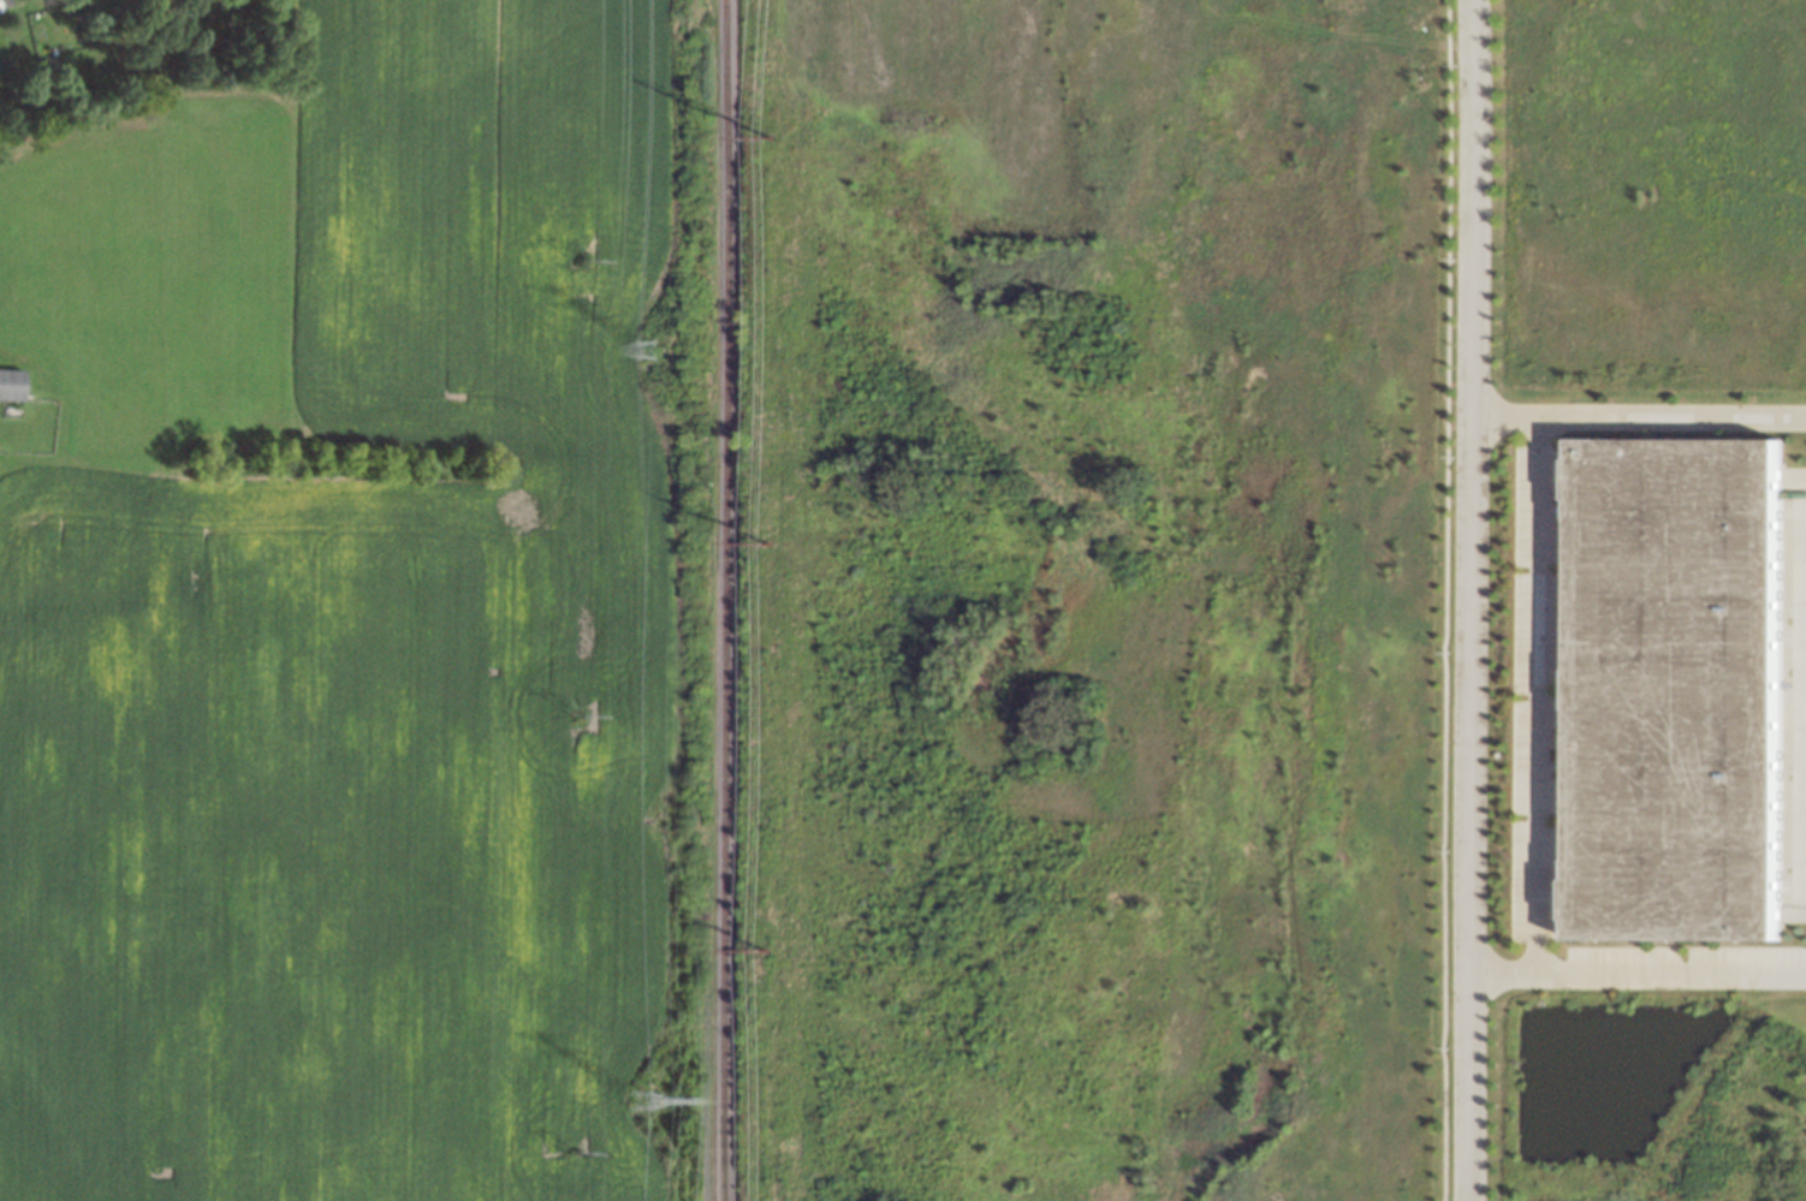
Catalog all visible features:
power tower: (768, 135)
power tower: (584, 258)
power tower: (658, 351)
building: (12, 384)
road: (1639, 415)
power tower: (768, 541)
railway: (715, 600)
road: (1471, 600)
building: (1680, 688)
road: (1538, 694)
power tower: (582, 714)
power tower: (765, 949)
road: (1636, 973)
power tower: (649, 1106)
power tower: (577, 1152)

